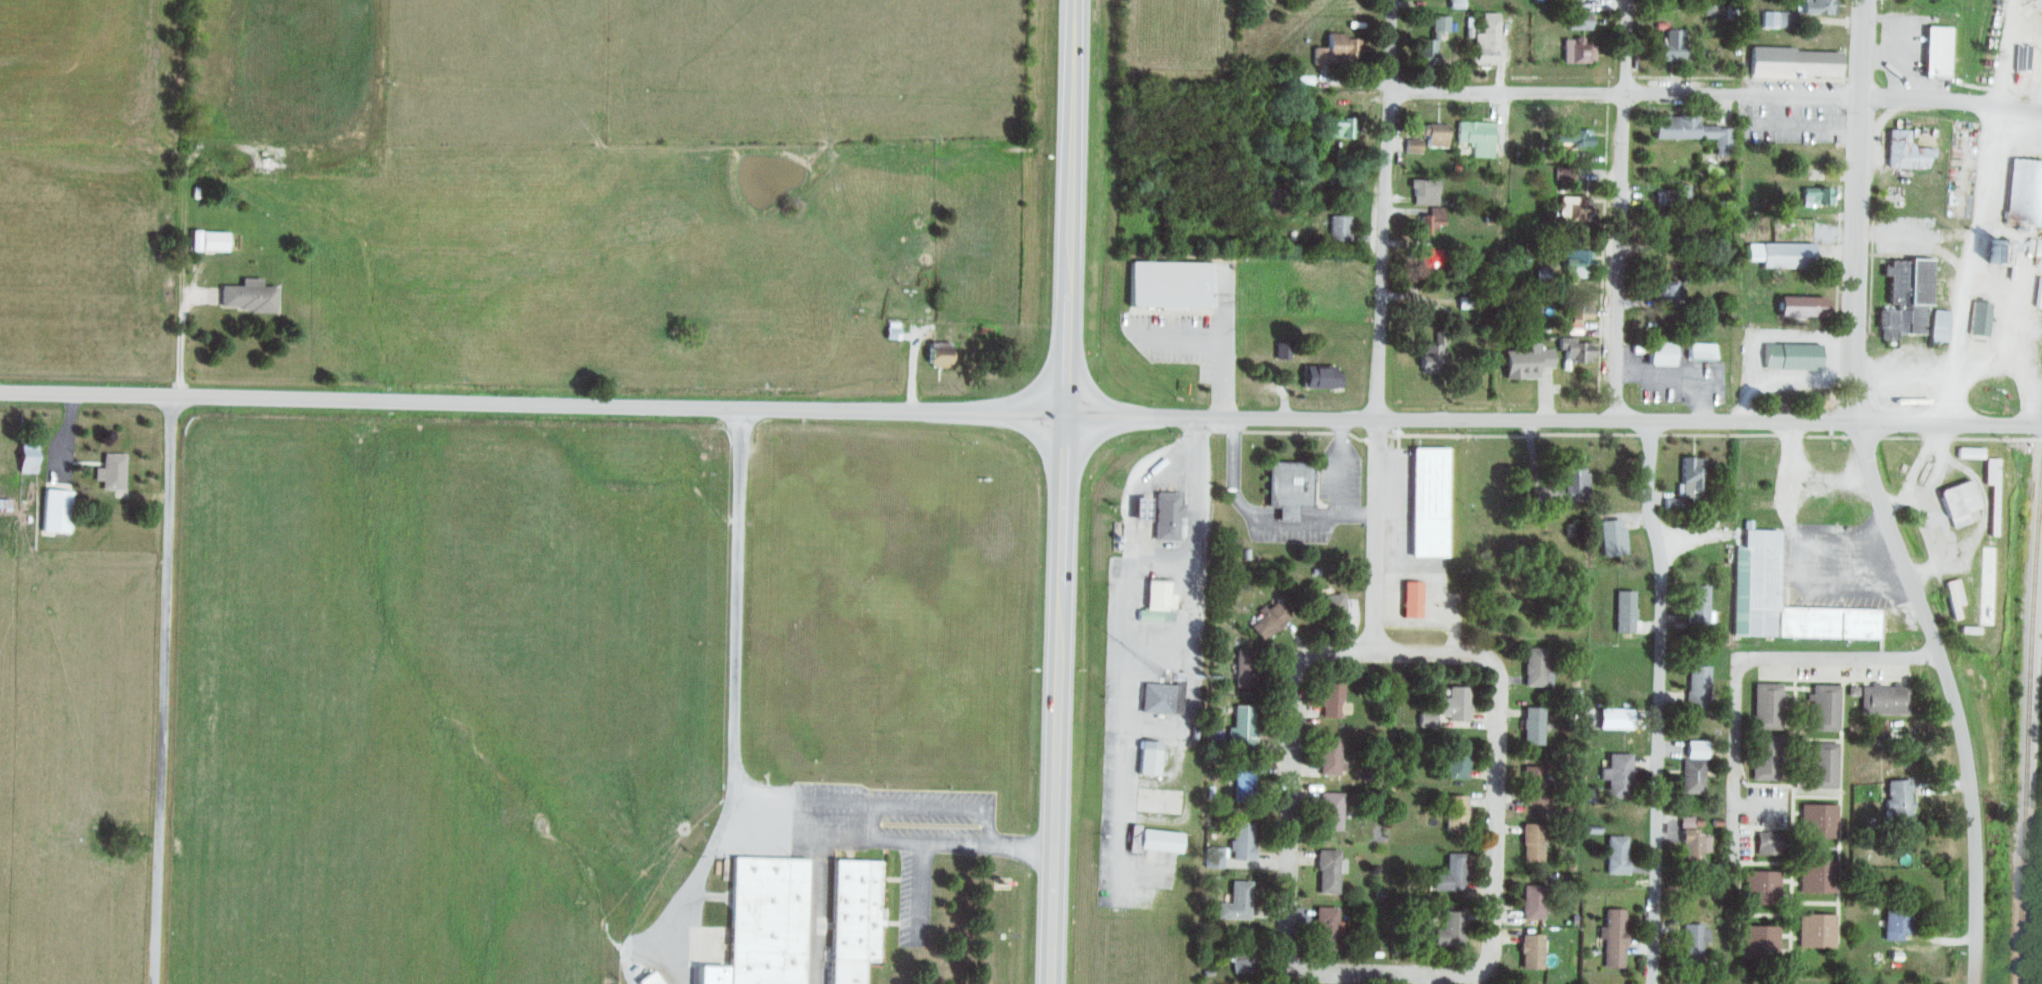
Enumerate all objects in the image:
building: (1813, 7)
building: (1767, 20)
building: (1784, 20)
building: (1578, 21)
building: (1440, 24)
building: (1486, 42)
building: (1669, 47)
road: (1858, 47)
building: (1338, 51)
building: (1428, 51)
building: (1578, 52)
building: (1936, 53)
building: (1794, 63)
road: (1621, 91)
road: (1949, 103)
building: (1334, 128)
building: (1693, 132)
building: (1435, 135)
building: (1477, 137)
building: (1574, 138)
building: (1412, 146)
building: (1904, 152)
building: (1580, 158)
building: (1564, 173)
road: (1983, 174)
building: (1424, 192)
building: (2024, 194)
building: (1816, 196)
building: (1673, 198)
building: (1573, 209)
road: (1622, 210)
road: (1382, 212)
building: (1431, 221)
building: (1340, 231)
building: (212, 241)
building: (1996, 251)
building: (1781, 255)
building: (1428, 257)
building: (1543, 279)
road: (183, 280)
building: (1169, 284)
building: (1666, 293)
building: (246, 295)
building: (1904, 299)
building: (1577, 313)
building: (1978, 319)
building: (1937, 326)
road: (1956, 329)
building: (1573, 349)
building: (1282, 350)
building: (1698, 351)
building: (1658, 352)
building: (937, 353)
building: (1433, 355)
building: (1790, 356)
building: (1525, 361)
road: (1903, 365)
road: (2011, 372)
building: (1320, 376)
road: (531, 405)
road: (1552, 421)
building: (1969, 452)
building: (26, 457)
building: (110, 471)
building: (1990, 472)
building: (1574, 478)
building: (1689, 478)
road: (1804, 482)
building: (1287, 488)
road: (1061, 491)
building: (1428, 502)
building: (1958, 502)
building: (1670, 505)
building: (1138, 508)
building: (53, 510)
road: (1925, 511)
building: (1165, 515)
road: (1263, 520)
road: (1691, 536)
road: (1374, 537)
building: (1611, 537)
road: (1893, 542)
building: (1755, 577)
building: (1954, 597)
building: (1411, 599)
building: (1156, 602)
building: (1696, 604)
building: (1324, 605)
building: (1623, 611)
building: (1268, 620)
road: (1757, 662)
building: (1535, 667)
building: (1243, 668)
building: (1696, 686)
road: (162, 691)
road: (737, 693)
building: (1159, 699)
building: (1884, 699)
building: (1331, 700)
road: (1659, 701)
building: (1454, 703)
building: (1766, 706)
building: (1824, 707)
railway: (2024, 711)
building: (1613, 718)
building: (1425, 719)
building: (1531, 725)
building: (1241, 729)
building: (1876, 730)
building: (1695, 749)
building: (1330, 755)
building: (1764, 757)
building: (1147, 758)
building: (1456, 760)
road: (1187, 763)
building: (1823, 765)
building: (1615, 775)
building: (1691, 776)
building: (1242, 780)
building: (1533, 784)
building: (1898, 802)
building: (1145, 806)
building: (1329, 811)
building: (1454, 813)
building: (1818, 821)
building: (1689, 822)
building: (1152, 840)
building: (1241, 841)
building: (1531, 843)
building: (1767, 843)
building: (1693, 844)
road: (894, 846)
building: (1615, 854)
building: (1213, 857)
building: (1328, 871)
building: (1450, 873)
building: (1816, 875)
building: (1211, 885)
building: (1759, 887)
building: (1235, 901)
building: (1530, 902)
building: (853, 918)
building: (766, 920)
building: (1896, 920)
building: (1325, 928)
building: (1449, 930)
building: (1815, 930)
building: (1612, 937)
building: (1759, 941)
building: (1692, 942)
building: (1530, 951)
building: (1241, 952)
road: (1471, 972)
building: (710, 975)
building: (647, 979)
building: (1246, 983)
building: (1521, 983)

